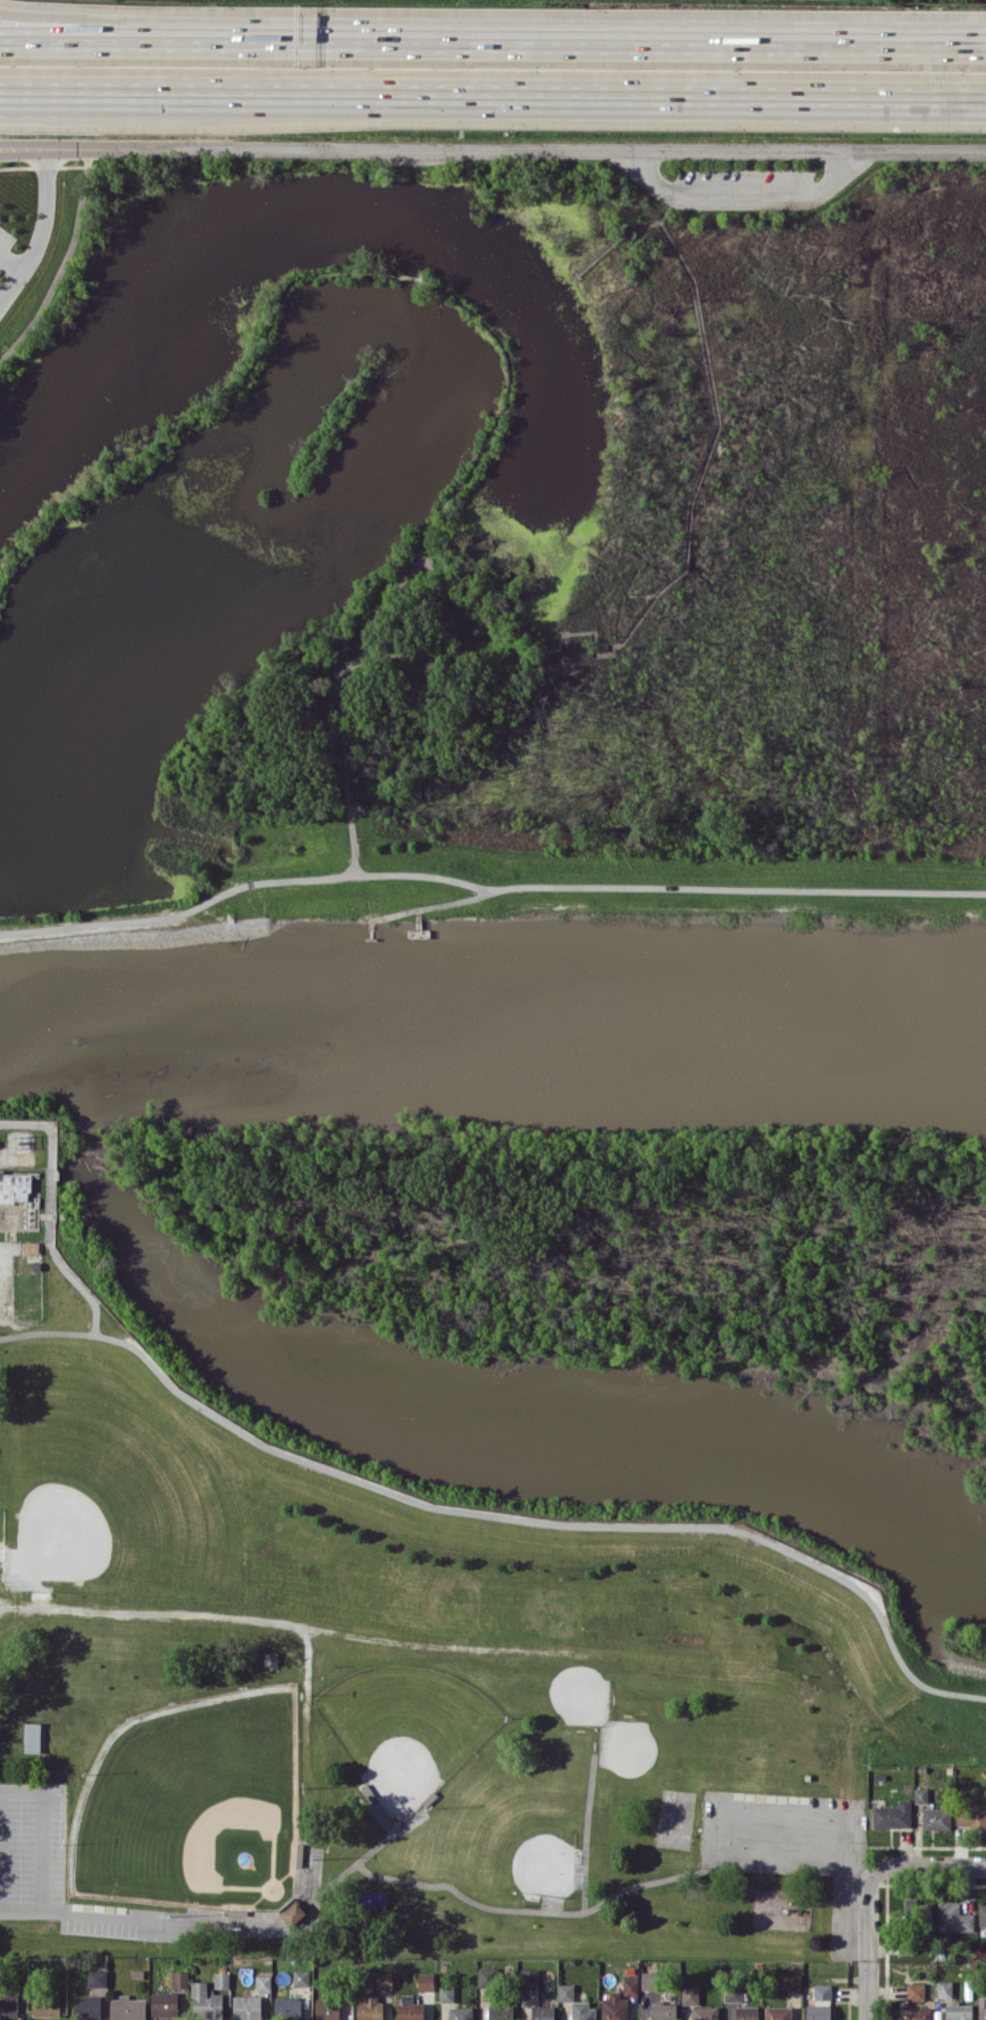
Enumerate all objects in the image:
road: (119, 17)
road: (119, 37)
road: (612, 37)
road: (28, 89)
road: (136, 90)
road: (600, 95)
road: (23, 148)
road: (516, 148)
parking lot: (738, 187)
road: (742, 196)
road: (670, 200)
road: (663, 212)
road: (40, 227)
road: (10, 262)
road: (62, 262)
road: (575, 273)
road: (408, 275)
road: (202, 415)
road: (480, 453)
road: (704, 457)
park: (494, 545)
road: (383, 601)
building: (478, 629)
building: (345, 646)
road: (336, 677)
building: (360, 803)
road: (488, 886)
road: (433, 904)
road: (418, 910)
pier: (419, 922)
pier: (371, 929)
pier: (419, 932)
pier: (370, 938)
river: (492, 1019)
building: (15, 1187)
building: (31, 1247)
park: (109, 1488)
road: (505, 1514)
road: (432, 1645)
building: (270, 1658)
road: (306, 1670)
park: (380, 1676)
park: (575, 1691)
park: (405, 1727)
building: (32, 1737)
park: (630, 1750)
building: (920, 1797)
park: (194, 1804)
building: (892, 1815)
building: (973, 1815)
park: (675, 1817)
building: (936, 1818)
parking lot: (791, 1843)
park: (526, 1845)
road: (39, 1846)
road: (800, 1849)
road: (928, 1865)
parking lot: (60, 1872)
building: (373, 1899)
building: (917, 1910)
building: (982, 1914)
road: (107, 1915)
building: (953, 1918)
road: (866, 1945)
building: (487, 1976)
building: (301, 1977)
building: (529, 1977)
building: (97, 1978)
building: (180, 1979)
building: (221, 1979)
building: (384, 1980)
building: (648, 1980)
building: (425, 1981)
building: (263, 1982)
building: (793, 1982)
building: (631, 1985)
building: (944, 1989)
building: (566, 1991)
building: (915, 1991)
building: (732, 1992)
building: (822, 1992)
building: (446, 1993)
building: (690, 1994)
building: (205, 2001)
building: (369, 2001)
building: (8, 2002)
building: (164, 2003)
building: (44, 2006)
building: (87, 2006)
building: (247, 2007)
building: (287, 2007)
building: (614, 2007)
building: (982, 2007)
building: (127, 2008)
building: (409, 2008)
building: (327, 2009)
building: (582, 2011)
building: (663, 2011)
building: (542, 2012)
building: (818, 2012)
building: (959, 2012)
building: (460, 2013)
building: (499, 2013)
building: (704, 2013)
building: (747, 2013)
building: (778, 2013)
building: (916, 2013)

